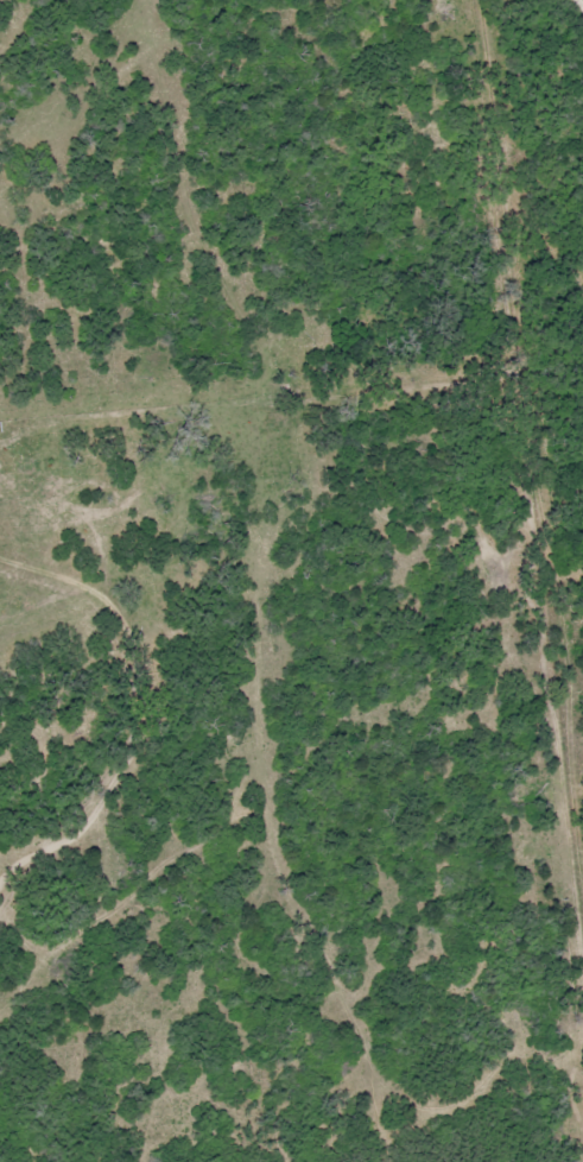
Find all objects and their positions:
road: (576, 12)
road: (107, 655)

